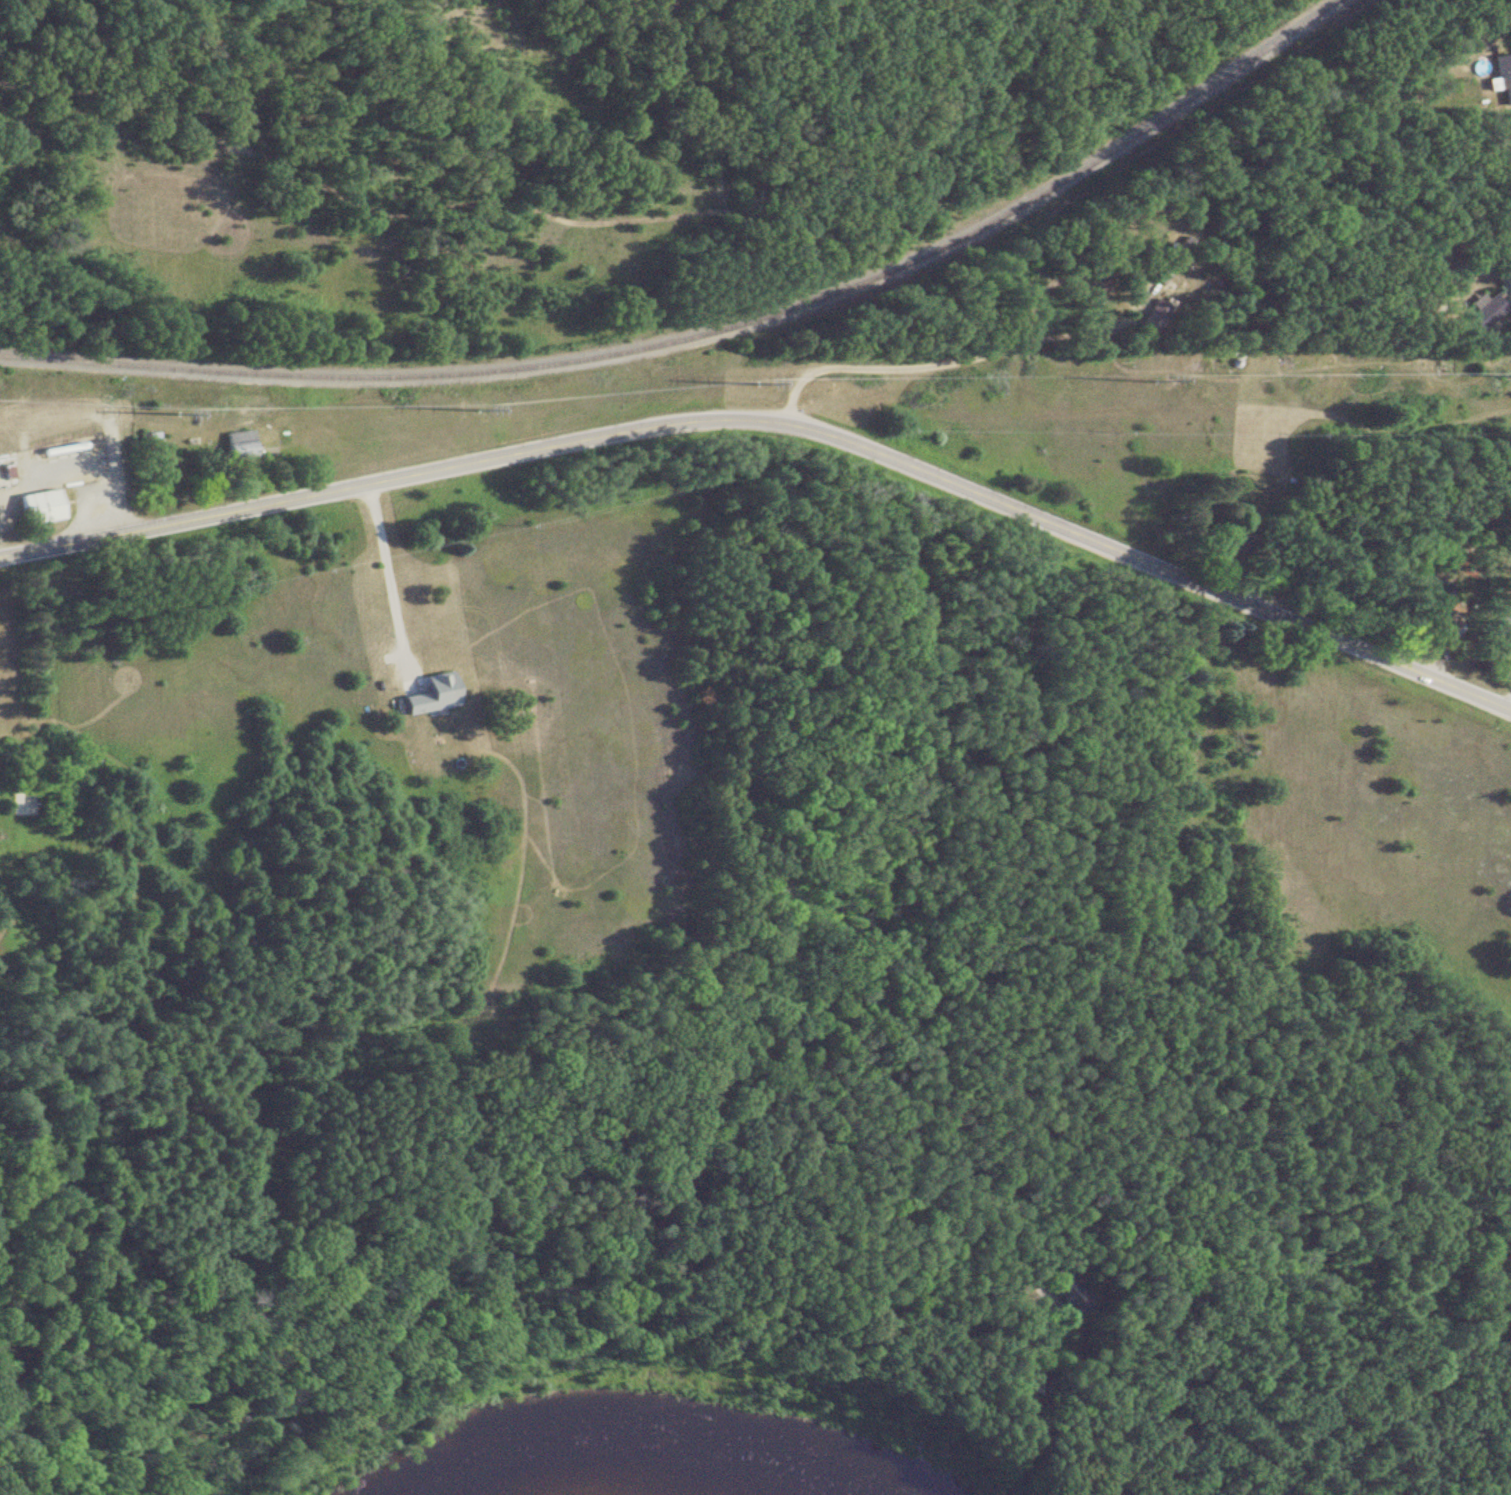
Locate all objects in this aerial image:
building: (1499, 78)
road: (1509, 290)
building: (1479, 311)
railway: (708, 332)
road: (997, 346)
power tower: (752, 384)
power tower: (1153, 384)
building: (241, 410)
power tower: (473, 411)
power tower: (175, 413)
road: (775, 421)
building: (235, 445)
building: (35, 508)
road: (388, 577)
building: (1427, 613)
building: (1500, 629)
road: (412, 1295)
river: (652, 1459)

